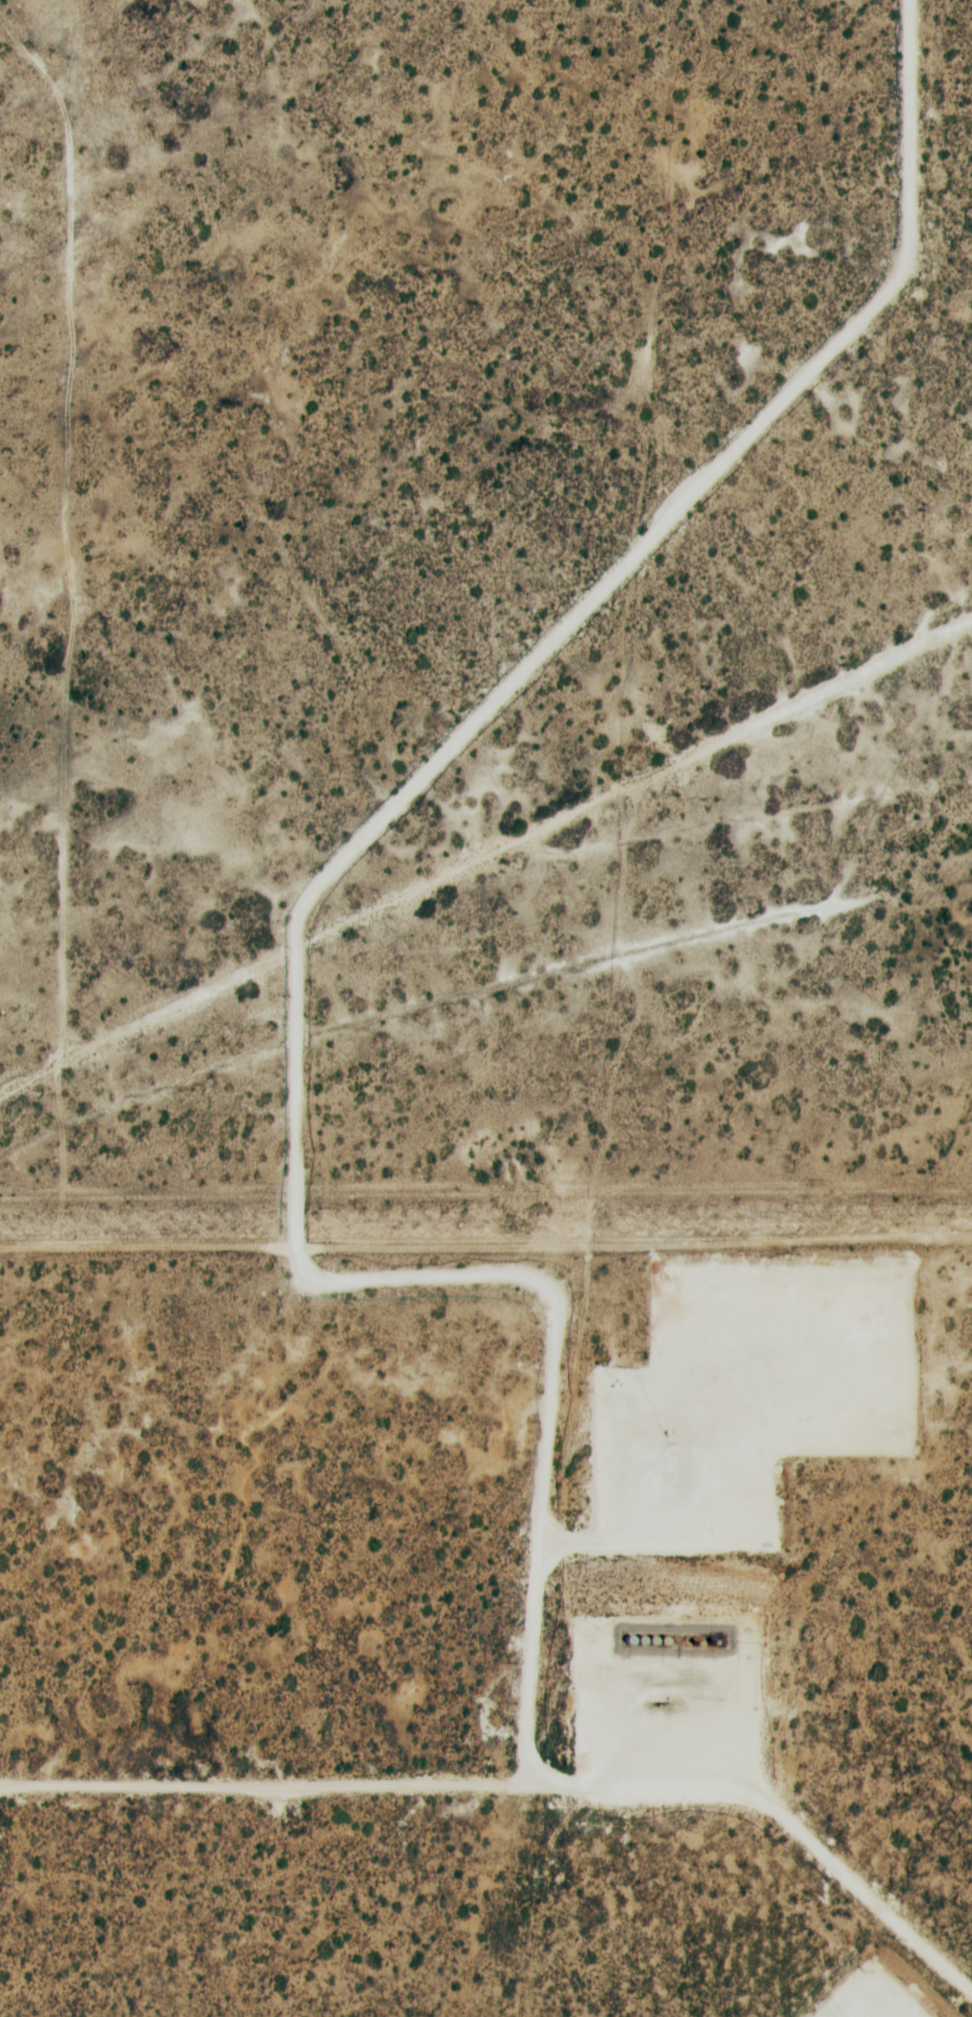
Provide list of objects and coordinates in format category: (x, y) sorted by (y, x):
road: (530, 1763)

